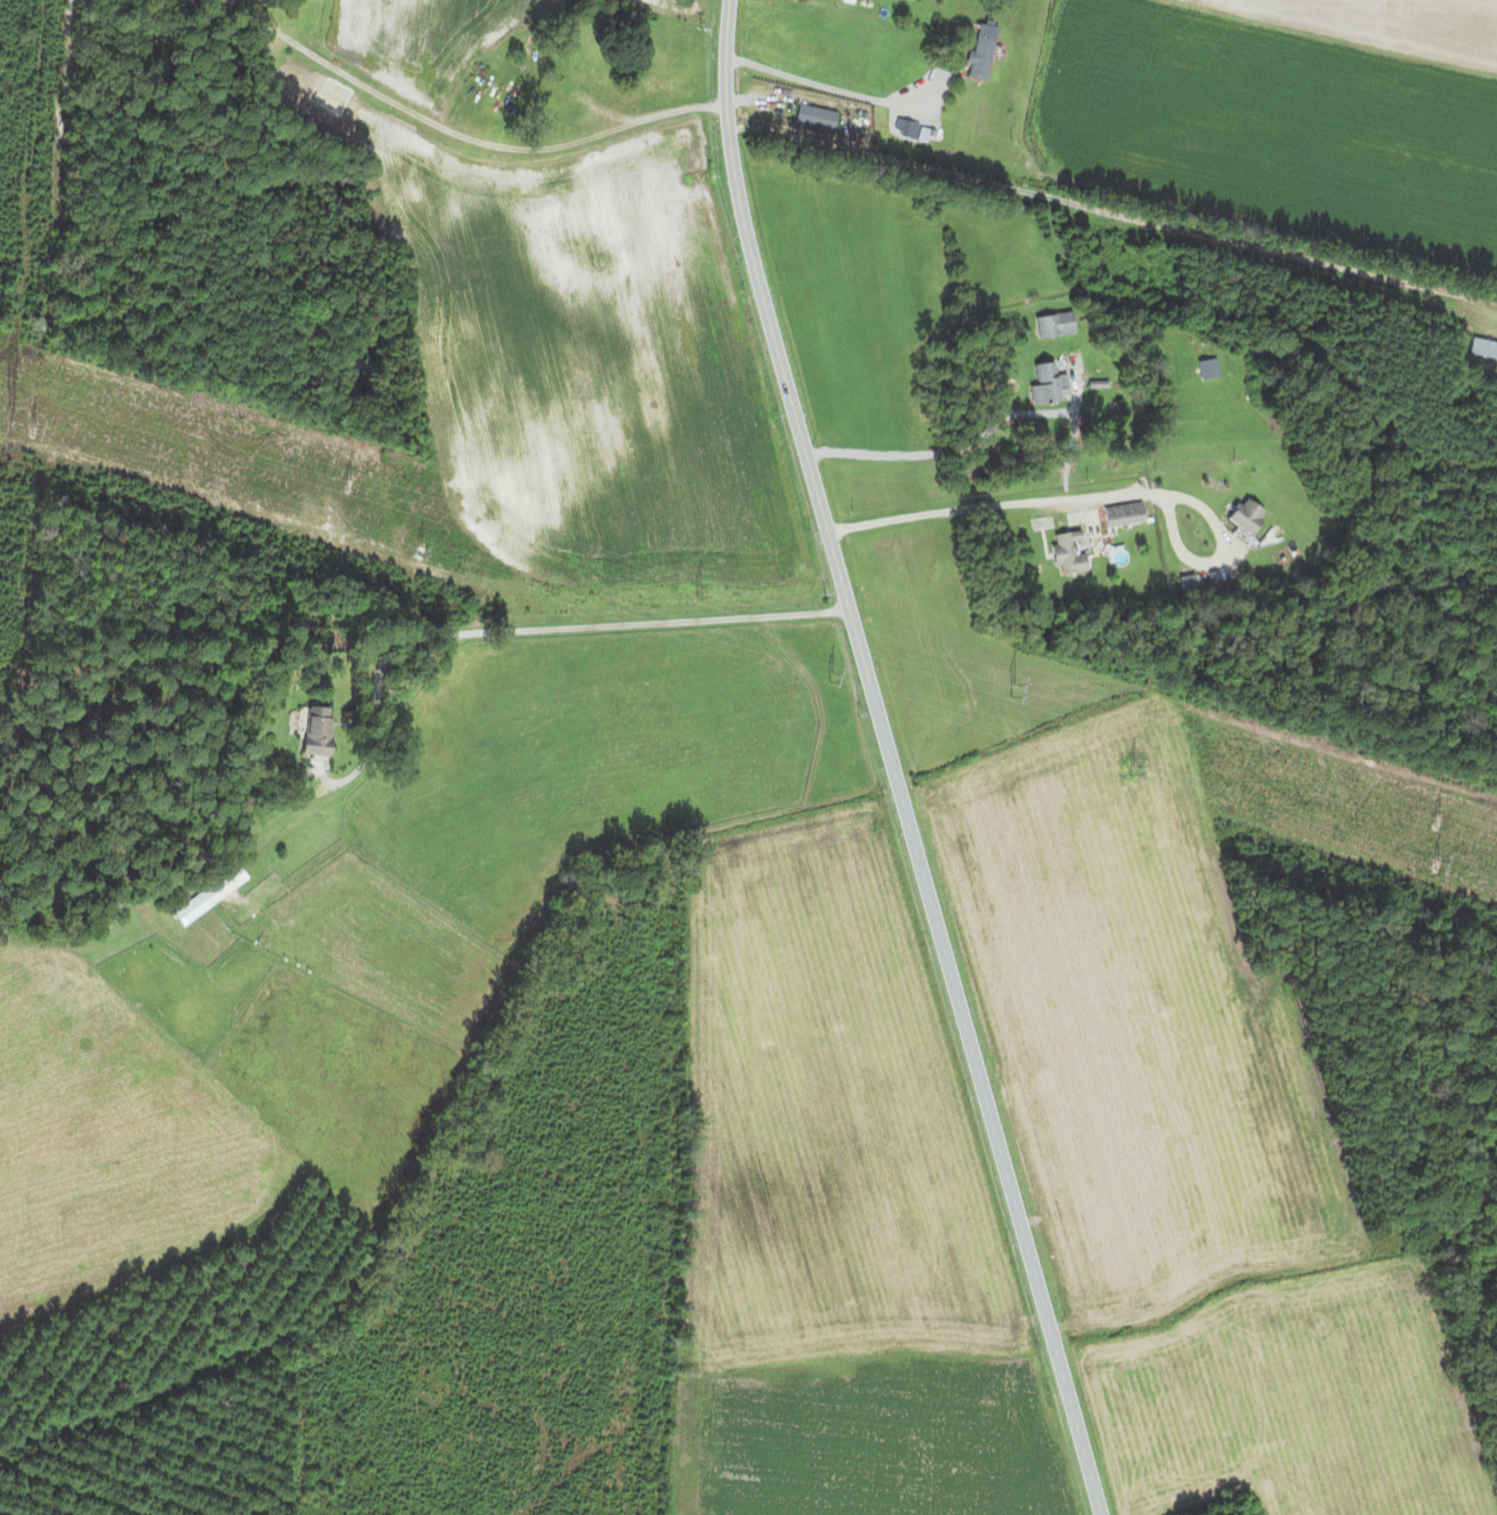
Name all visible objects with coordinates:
building: (976, 55)
road: (848, 91)
building: (811, 115)
road: (486, 143)
building: (1050, 323)
building: (1480, 347)
building: (1039, 382)
road: (943, 452)
power tower: (354, 484)
road: (1097, 495)
building: (1120, 513)
building: (1241, 514)
building: (1063, 551)
power tower: (702, 590)
road: (607, 625)
power tower: (1006, 686)
road: (890, 761)
power tower: (1437, 819)
building: (204, 893)

